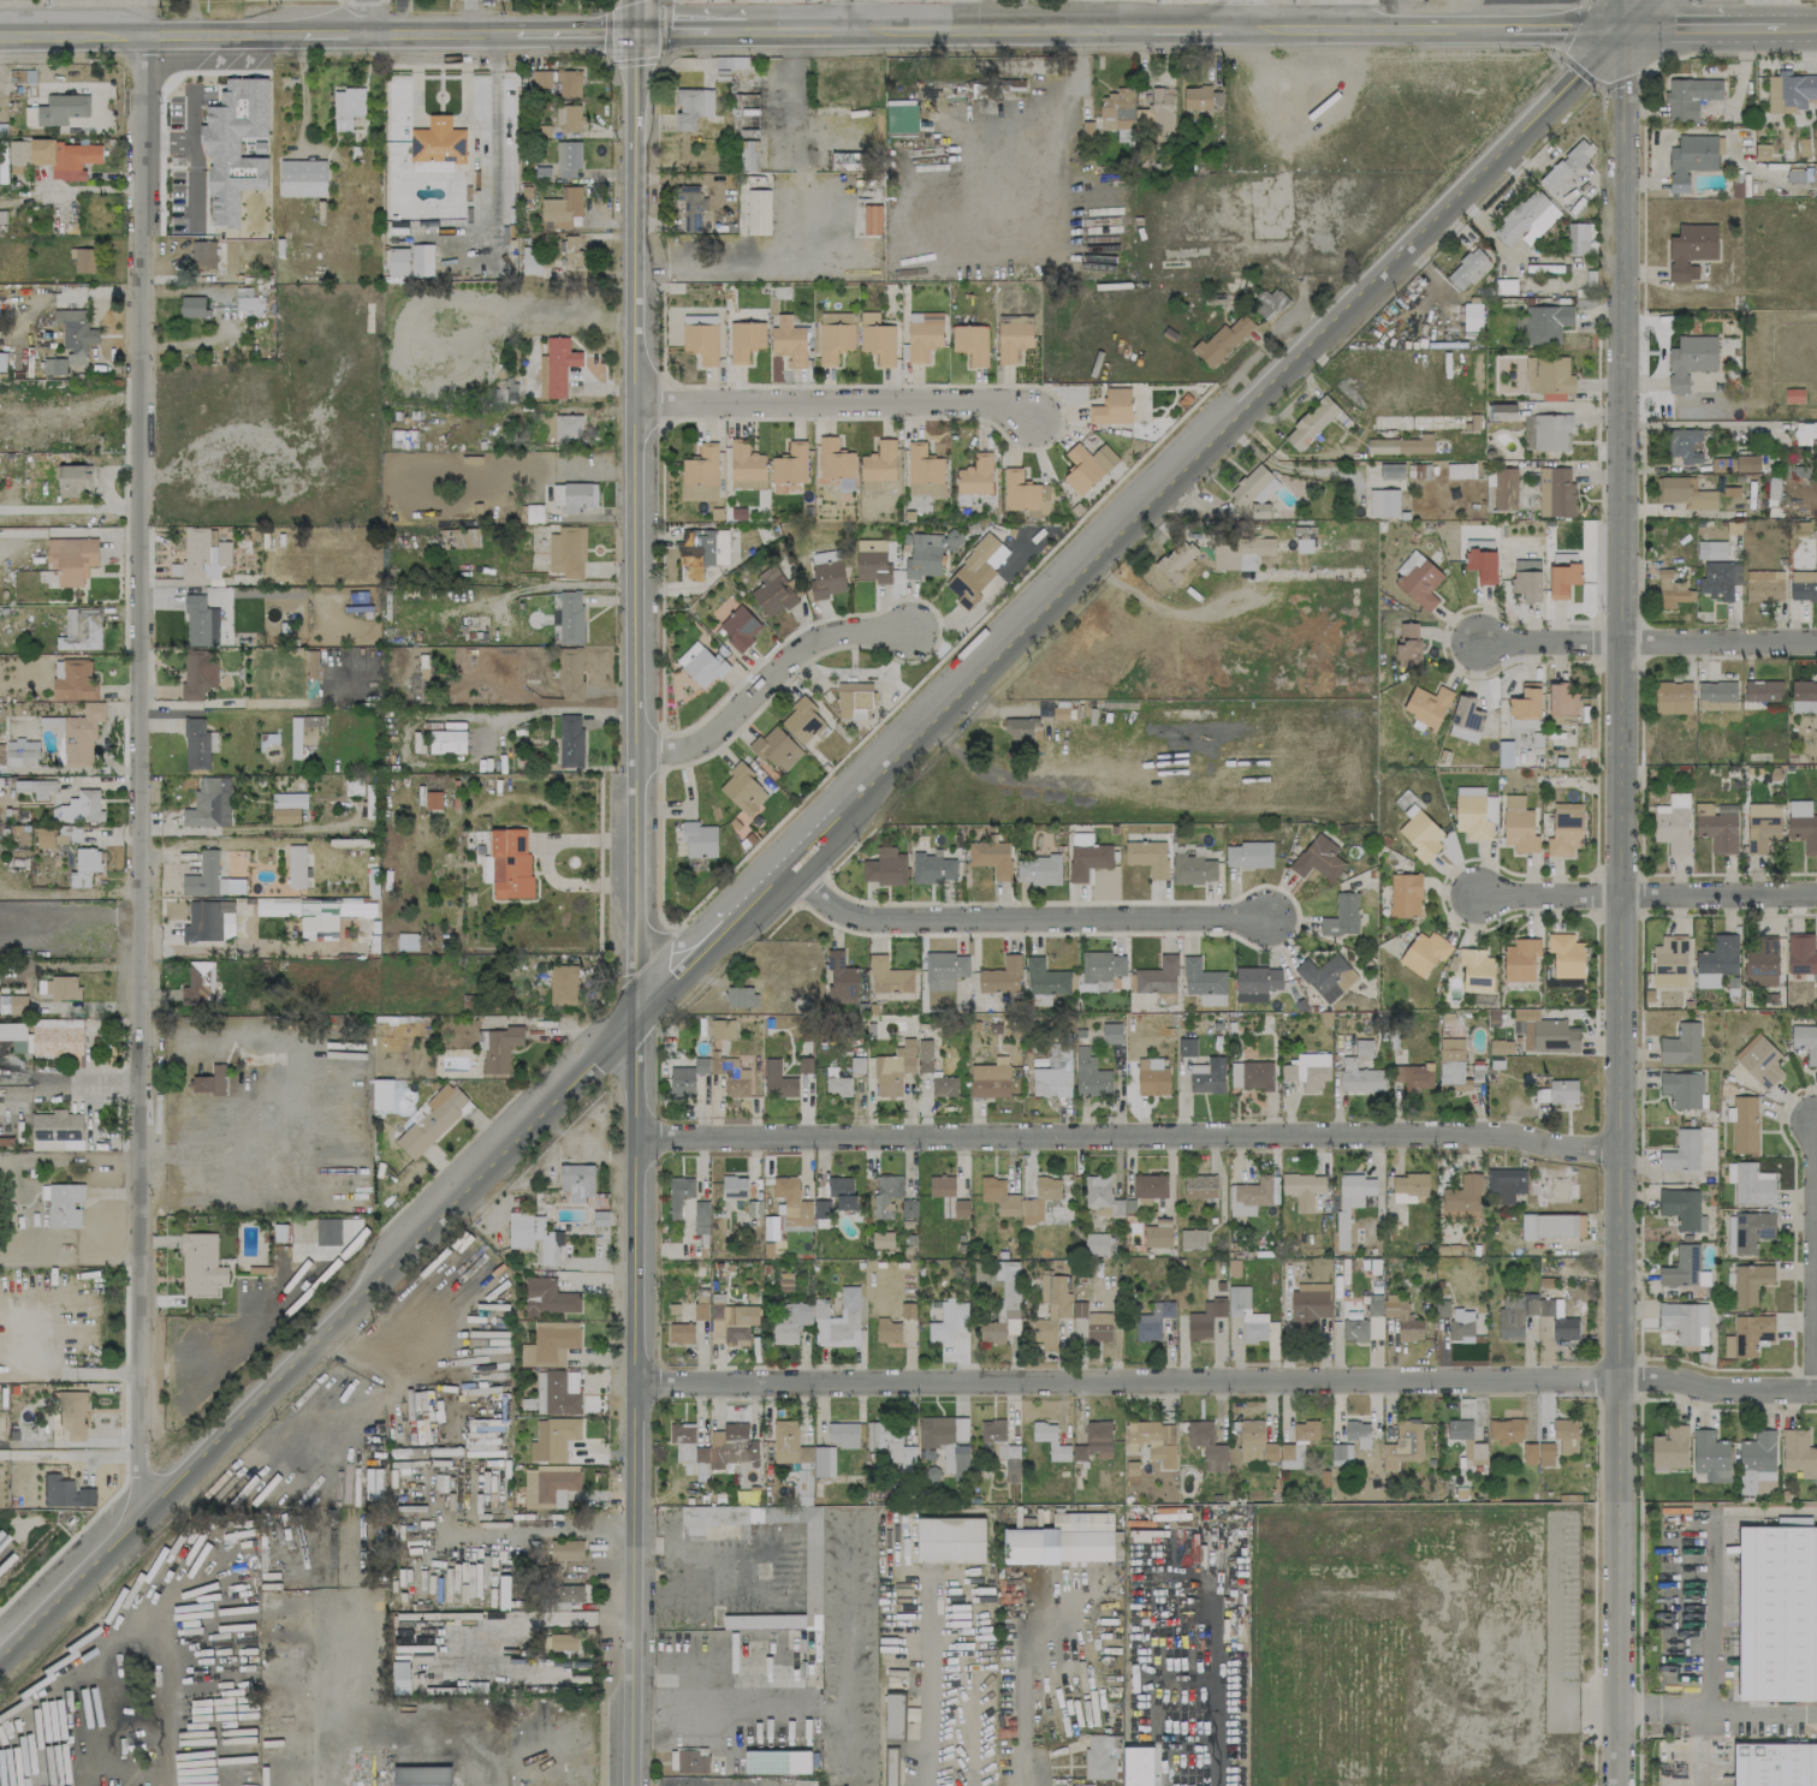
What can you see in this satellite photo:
road: (1639, 13)
road: (1240, 14)
road: (149, 16)
road: (964, 16)
road: (1091, 16)
road: (364, 17)
road: (853, 17)
road: (1800, 26)
road: (1568, 28)
road: (1674, 28)
road: (1753, 28)
road: (1128, 30)
road: (150, 32)
road: (333, 34)
road: (440, 34)
road: (726, 34)
road: (575, 35)
road: (671, 35)
road: (1075, 75)
building: (541, 78)
building: (569, 83)
road: (302, 91)
building: (1789, 91)
building: (1200, 97)
building: (1690, 97)
building: (346, 106)
building: (693, 107)
building: (57, 109)
building: (895, 109)
building: (1117, 109)
building: (1162, 109)
building: (746, 115)
building: (569, 118)
building: (234, 145)
building: (437, 145)
building: (1760, 151)
building: (18, 153)
building: (748, 155)
building: (64, 157)
building: (568, 159)
building: (1692, 159)
building: (1567, 175)
building: (302, 178)
building: (691, 208)
building: (563, 209)
building: (758, 212)
building: (2, 215)
building: (1526, 219)
road: (802, 227)
building: (1576, 238)
building: (1691, 250)
building: (572, 251)
building: (202, 254)
building: (422, 260)
building: (84, 261)
building: (398, 261)
building: (530, 263)
building: (1467, 269)
building: (248, 303)
building: (1267, 303)
building: (192, 306)
building: (1472, 316)
building: (1546, 323)
building: (75, 334)
building: (924, 334)
building: (835, 335)
building: (1013, 337)
building: (877, 339)
building: (746, 340)
building: (789, 340)
building: (1222, 340)
building: (701, 341)
building: (970, 343)
building: (1690, 359)
building: (2, 361)
building: (559, 364)
building: (54, 365)
building: (1548, 375)
building: (541, 376)
building: (1793, 394)
road: (833, 401)
building: (1112, 406)
building: (1502, 411)
building: (1311, 423)
building: (568, 429)
building: (1551, 431)
building: (1804, 431)
building: (1401, 445)
building: (1684, 445)
building: (1747, 463)
building: (790, 464)
building: (836, 464)
building: (1722, 464)
building: (878, 465)
building: (746, 466)
building: (1087, 466)
building: (1460, 470)
building: (924, 471)
road: (1170, 471)
building: (1390, 471)
building: (701, 474)
building: (975, 476)
building: (75, 480)
building: (1253, 486)
building: (1504, 488)
building: (1555, 492)
building: (1684, 493)
building: (1025, 494)
building: (574, 496)
building: (1383, 502)
road: (71, 508)
building: (465, 537)
building: (720, 547)
building: (1711, 549)
building: (1239, 550)
building: (568, 552)
building: (696, 552)
building: (203, 553)
building: (924, 555)
building: (71, 559)
building: (1177, 559)
building: (1246, 560)
building: (873, 564)
building: (1481, 564)
building: (973, 572)
building: (826, 578)
building: (1562, 578)
building: (1418, 579)
building: (1527, 579)
building: (1718, 579)
building: (1764, 585)
building: (1803, 585)
building: (1671, 590)
building: (772, 591)
building: (570, 617)
building: (200, 621)
building: (84, 625)
building: (740, 627)
building: (1408, 630)
road: (1647, 638)
building: (1407, 653)
building: (701, 663)
building: (197, 673)
building: (311, 673)
building: (570, 674)
building: (423, 675)
road: (766, 679)
building: (75, 681)
building: (1763, 691)
building: (1716, 695)
building: (1803, 696)
building: (1671, 697)
building: (418, 698)
building: (854, 699)
building: (1562, 699)
building: (1427, 704)
road: (584, 708)
building: (1525, 708)
road: (497, 714)
building: (1466, 719)
building: (802, 720)
building: (1022, 728)
building: (81, 733)
building: (295, 737)
building: (570, 740)
building: (447, 742)
building: (197, 743)
building: (777, 749)
building: (1, 752)
building: (1506, 754)
building: (28, 757)
road: (141, 776)
building: (354, 786)
building: (38, 787)
building: (743, 788)
building: (1469, 791)
building: (433, 799)
building: (210, 803)
building: (82, 806)
building: (286, 806)
building: (1475, 816)
building: (1673, 823)
building: (1519, 824)
building: (1803, 824)
building: (1762, 826)
road: (243, 828)
building: (1716, 828)
building: (1564, 829)
building: (67, 833)
building: (44, 834)
building: (1421, 835)
road: (120, 838)
building: (699, 839)
building: (1248, 855)
building: (1087, 856)
building: (1147, 856)
building: (991, 857)
building: (1318, 858)
building: (509, 863)
building: (84, 867)
building: (296, 867)
building: (885, 867)
building: (933, 868)
building: (1038, 869)
building: (1193, 869)
building: (210, 877)
road: (634, 893)
road: (1620, 893)
building: (1405, 894)
road: (1647, 895)
building: (278, 906)
building: (356, 907)
building: (1342, 916)
road: (1017, 917)
building: (319, 918)
building: (209, 921)
building: (406, 941)
building: (1424, 953)
building: (1801, 953)
building: (1566, 955)
building: (1716, 960)
building: (1669, 962)
building: (1520, 963)
building: (1762, 964)
road: (678, 966)
building: (944, 970)
building: (1475, 970)
building: (1099, 971)
building: (842, 976)
building: (889, 976)
building: (1002, 976)
building: (1156, 976)
building: (1326, 976)
building: (1201, 977)
building: (1045, 978)
building: (1258, 980)
building: (198, 982)
building: (564, 984)
building: (63, 988)
building: (741, 996)
building: (1209, 999)
building: (13, 1004)
building: (722, 1029)
building: (12, 1031)
building: (1544, 1031)
building: (1111, 1032)
building: (58, 1040)
building: (1805, 1041)
building: (1681, 1044)
building: (20, 1046)
building: (1187, 1047)
building: (1496, 1047)
building: (498, 1048)
building: (924, 1055)
building: (1759, 1061)
building: (856, 1064)
building: (1453, 1064)
building: (895, 1068)
building: (1307, 1070)
building: (1089, 1074)
building: (1251, 1074)
building: (731, 1076)
building: (1207, 1076)
building: (1152, 1077)
building: (1359, 1077)
building: (1413, 1077)
building: (685, 1078)
building: (1052, 1078)
building: (778, 1079)
building: (990, 1079)
building: (208, 1080)
building: (836, 1083)
building: (944, 1085)
building: (1682, 1089)
building: (1557, 1093)
building: (382, 1094)
building: (435, 1119)
building: (1744, 1124)
building: (57, 1131)
road: (1127, 1133)
building: (1682, 1151)
building: (576, 1180)
building: (1506, 1183)
building: (1750, 1183)
building: (1409, 1184)
building: (1150, 1185)
building: (735, 1186)
building: (1199, 1186)
building: (1302, 1189)
building: (842, 1192)
building: (679, 1193)
building: (886, 1193)
building: (1354, 1195)
building: (946, 1196)
building: (999, 1196)
building: (1102, 1196)
building: (1249, 1196)
building: (1462, 1198)
building: (1039, 1199)
building: (792, 1202)
building: (64, 1204)
building: (821, 1208)
building: (1682, 1208)
building: (701, 1218)
building: (1552, 1226)
building: (521, 1228)
building: (328, 1231)
building: (1751, 1231)
building: (1157, 1236)
building: (1192, 1239)
building: (1097, 1244)
building: (202, 1266)
building: (1681, 1267)
building: (1750, 1282)
building: (548, 1297)
building: (1004, 1304)
building: (1308, 1308)
building: (1055, 1309)
building: (700, 1310)
building: (907, 1310)
building: (1246, 1314)
building: (1520, 1314)
building: (1402, 1318)
building: (838, 1320)
building: (1204, 1320)
building: (949, 1321)
building: (1152, 1321)
building: (731, 1322)
building: (790, 1322)
building: (1685, 1322)
building: (1365, 1324)
building: (1461, 1324)
road: (444, 1327)
building: (1099, 1327)
building: (1564, 1328)
building: (887, 1330)
building: (681, 1333)
road: (319, 1334)
building: (1748, 1335)
building: (550, 1344)
road: (1230, 1380)
road: (386, 1388)
building: (557, 1392)
building: (72, 1413)
building: (992, 1430)
building: (1506, 1430)
building: (1358, 1433)
building: (842, 1435)
building: (1566, 1435)
building: (1151, 1437)
building: (552, 1439)
building: (1466, 1440)
building: (1050, 1441)
building: (1094, 1442)
building: (789, 1443)
building: (890, 1443)
building: (944, 1443)
building: (1403, 1443)
building: (1207, 1445)
building: (689, 1447)
building: (731, 1447)
building: (1669, 1448)
building: (1271, 1451)
building: (1538, 1453)
building: (1798, 1453)
road: (69, 1454)
building: (1341, 1454)
building: (1710, 1454)
building: (824, 1460)
building: (1757, 1460)
building: (1010, 1461)
building: (373, 1483)
building: (548, 1487)
building: (65, 1492)
building: (753, 1494)
road: (539, 1528)
building: (950, 1540)
building: (1059, 1542)
building: (563, 1550)
road: (1709, 1559)
road: (682, 1562)
building: (812, 1574)
building: (569, 1596)
building: (1777, 1613)
road: (544, 1618)
building: (560, 1641)
road: (2, 1648)
road: (1035, 1656)
road: (532, 1667)
building: (400, 1677)
road: (676, 1680)
road: (926, 1680)
road: (1684, 1710)
road: (1781, 1713)
building: (893, 1715)
road: (1697, 1749)
building: (1099, 1756)
building: (689, 1760)
building: (795, 1761)
road: (1021, 1762)
building: (1775, 1764)
building: (422, 1775)
building: (804, 1782)
building: (1081, 1785)

